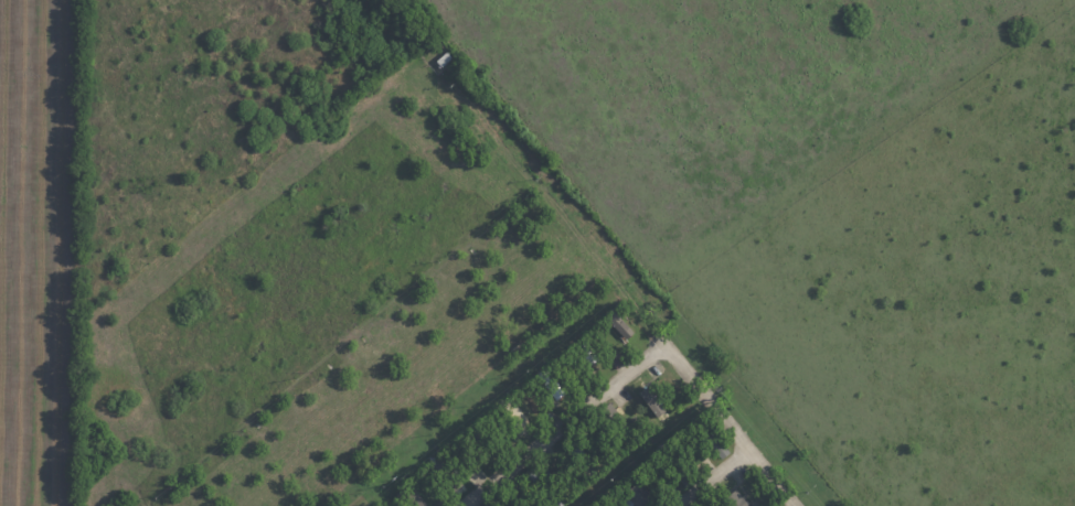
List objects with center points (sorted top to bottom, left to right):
building: (621, 324)
building: (589, 353)
building: (618, 359)
building: (653, 401)
building: (518, 416)
building: (616, 421)
road: (565, 426)
road: (728, 426)
building: (711, 435)
building: (481, 440)
building: (581, 457)
building: (674, 463)
building: (448, 473)
road: (715, 478)
building: (544, 486)
building: (641, 495)
building: (412, 496)
building: (736, 498)
building: (596, 505)

